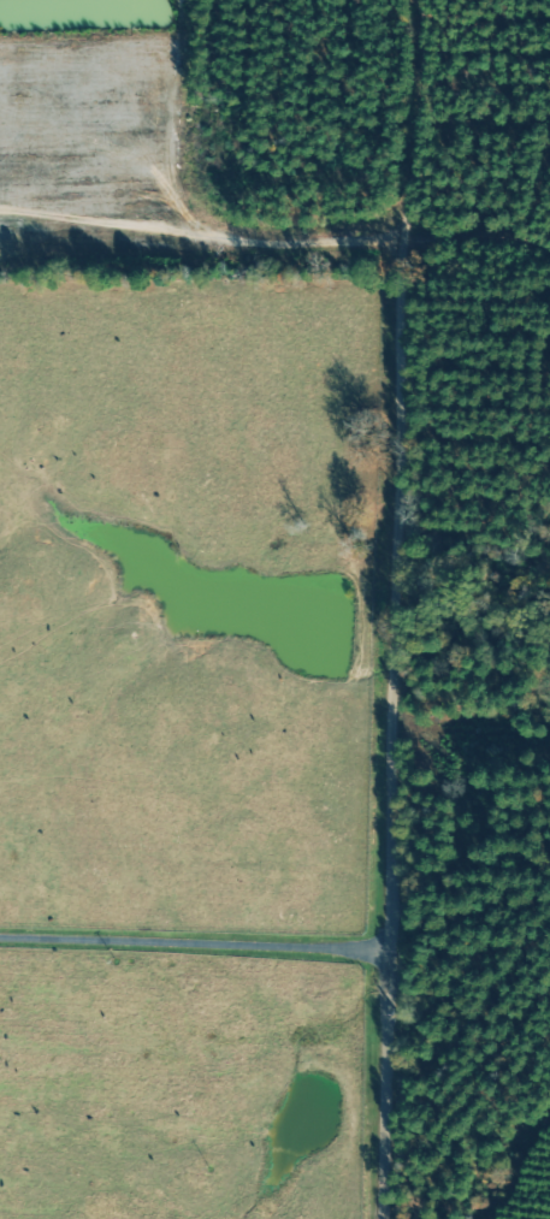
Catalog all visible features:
road: (483, 232)
road: (400, 609)
road: (194, 940)

